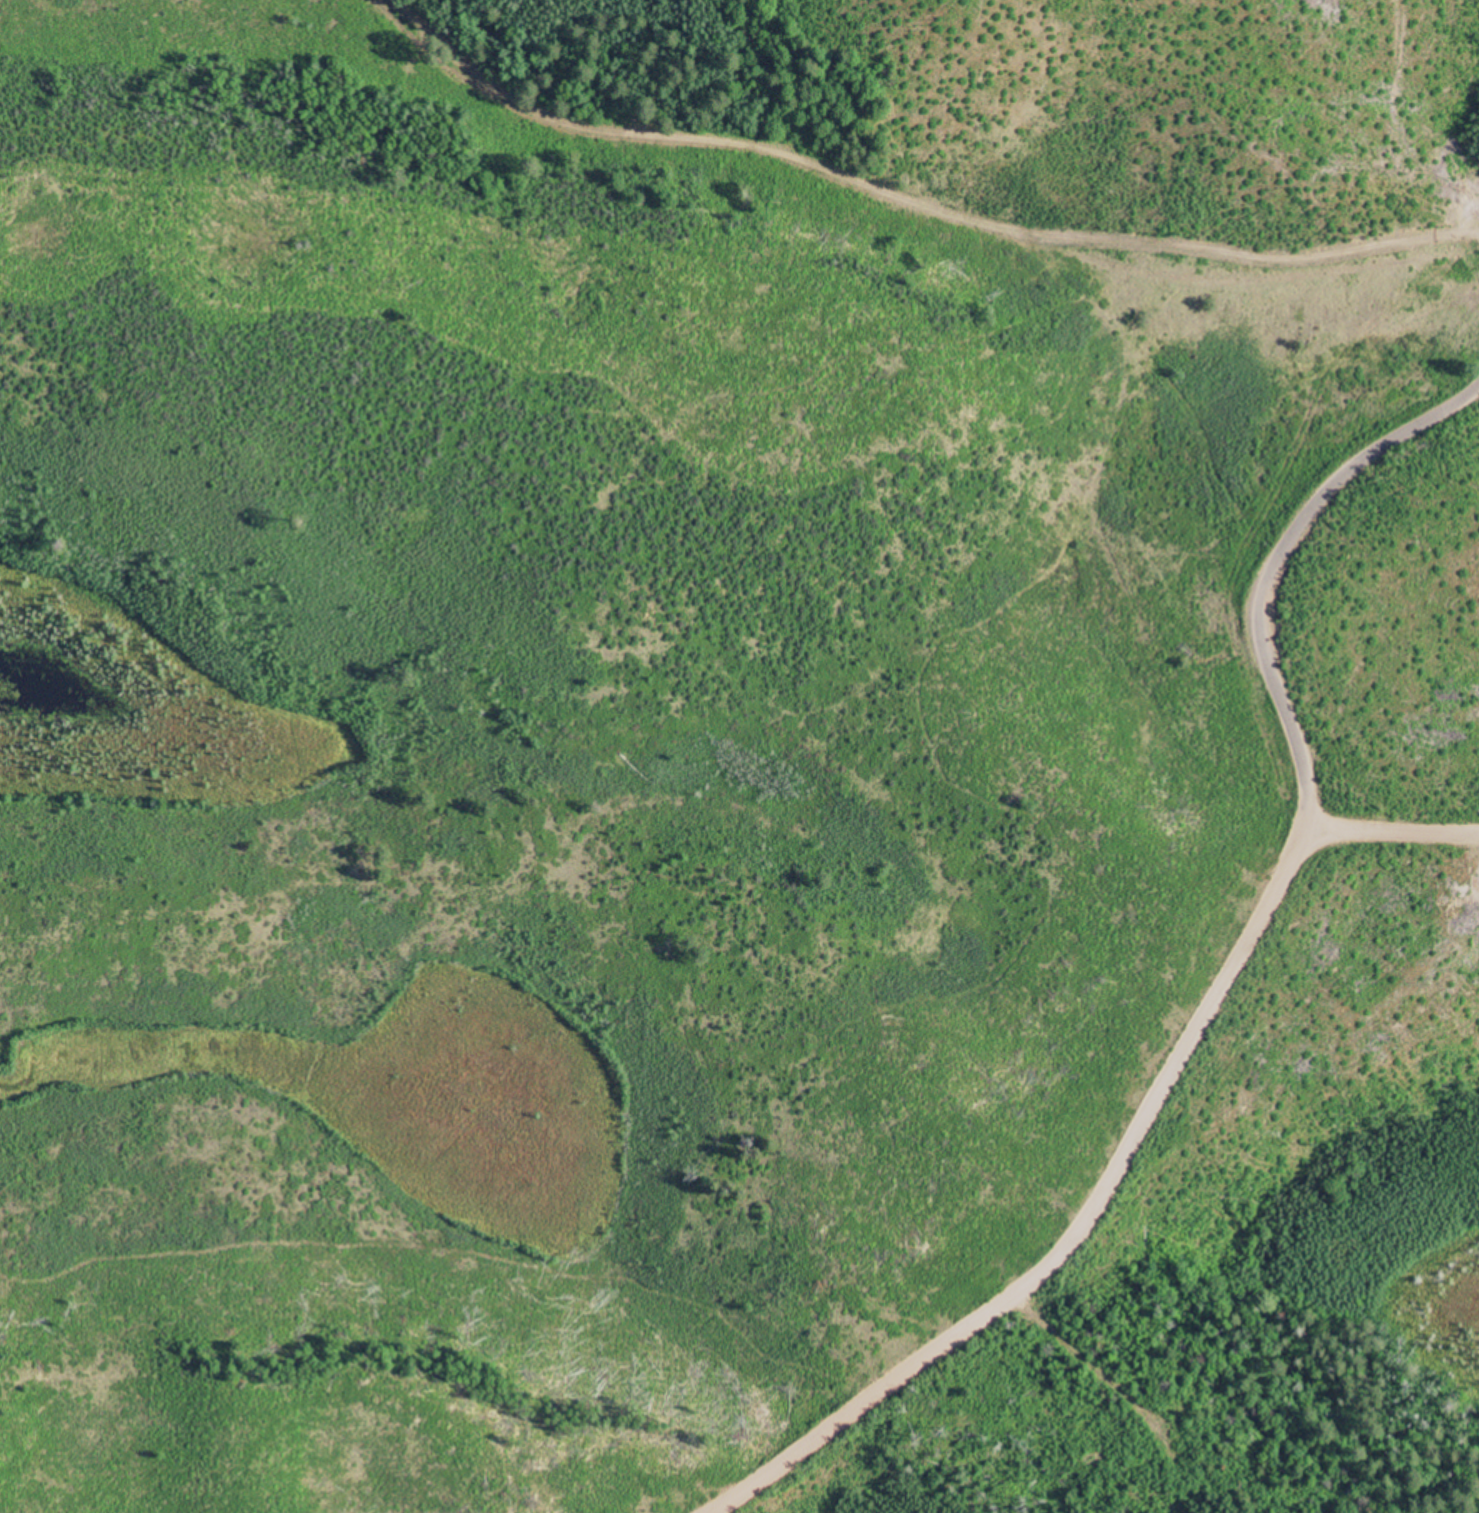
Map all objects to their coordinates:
road: (903, 173)
road: (1392, 832)
road: (1218, 993)

